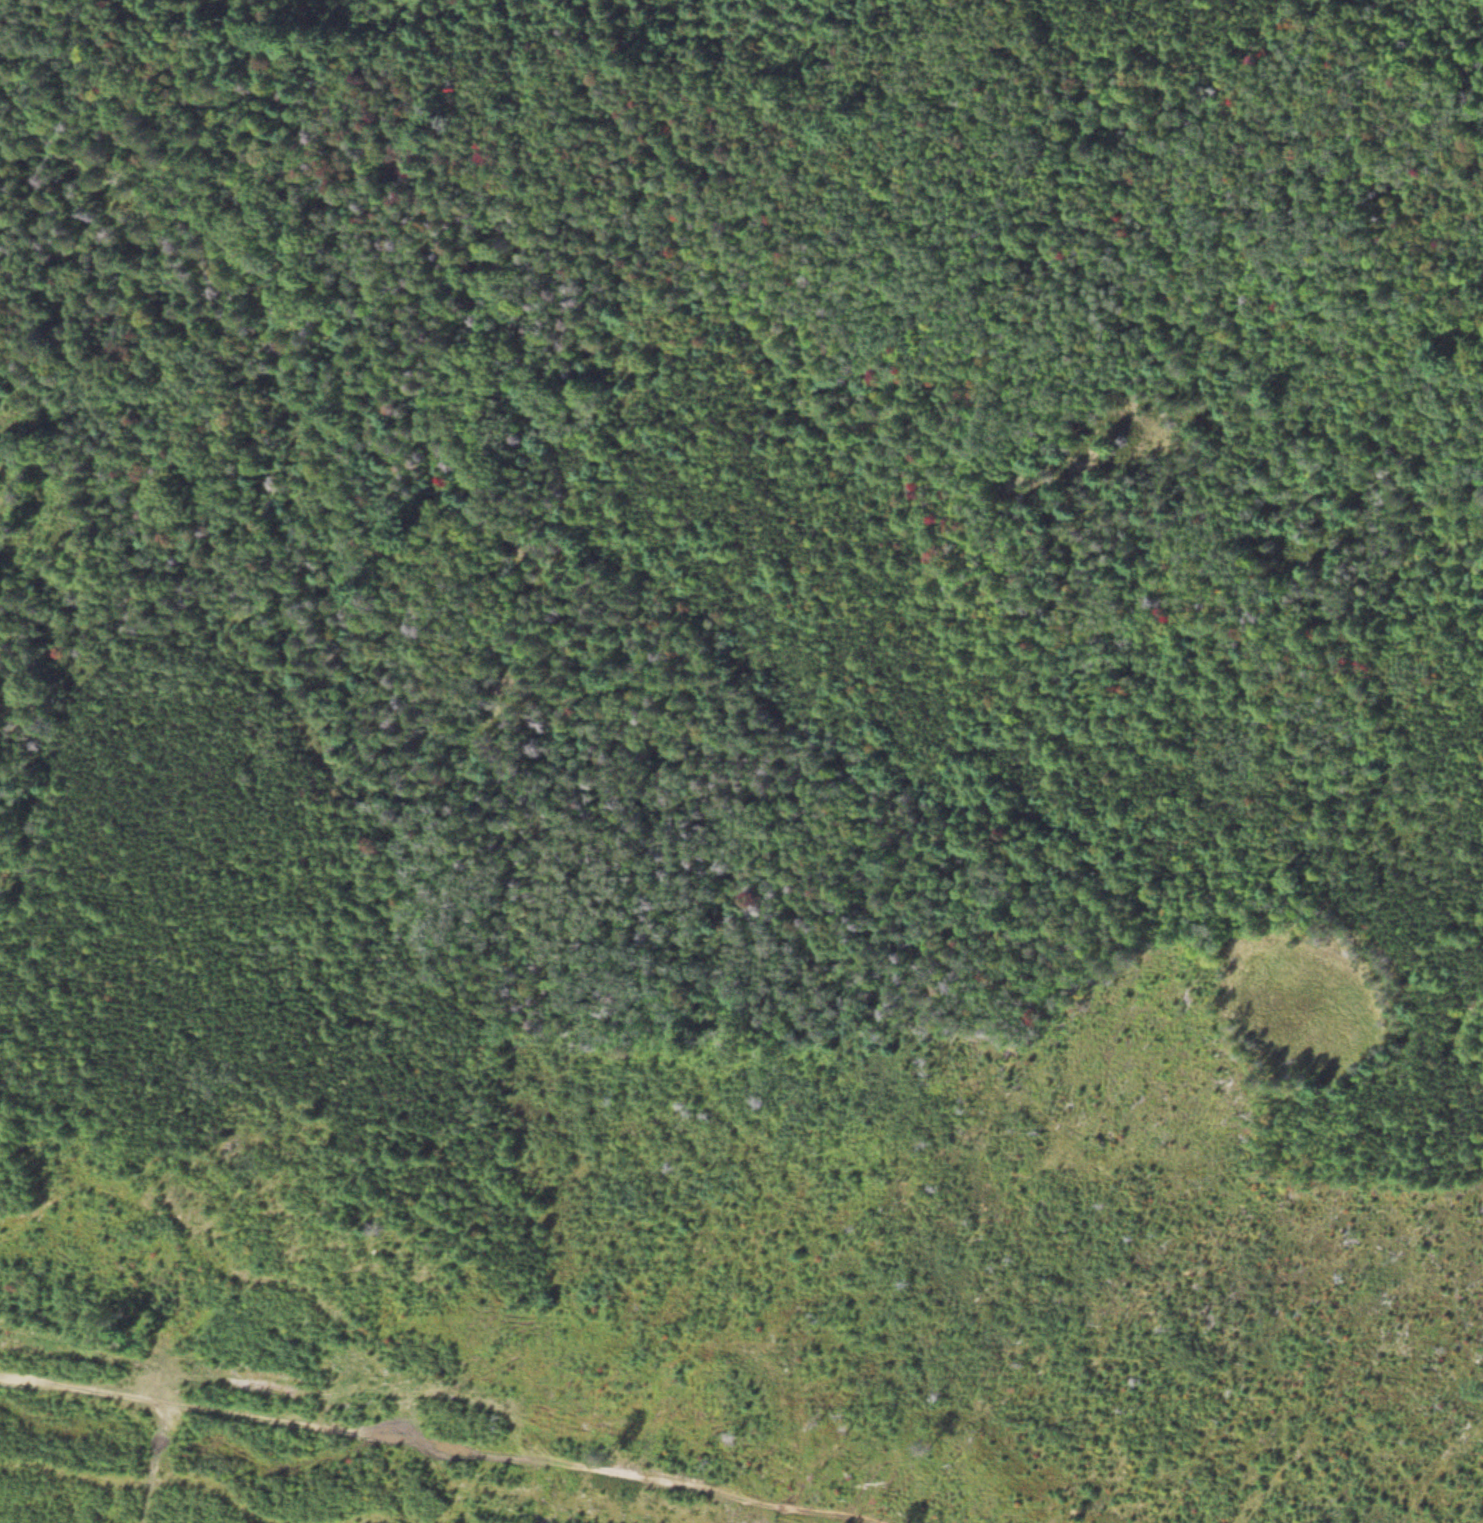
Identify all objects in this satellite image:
road: (471, 1449)
road: (157, 1462)

